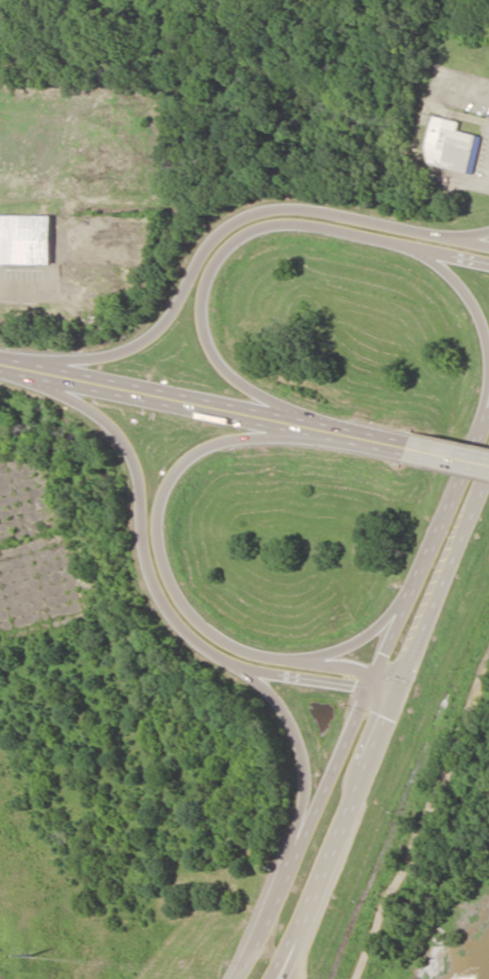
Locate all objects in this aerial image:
road: (83, 65)
road: (165, 96)
building: (453, 145)
road: (82, 192)
road: (220, 231)
road: (459, 234)
building: (25, 239)
road: (231, 240)
road: (479, 325)
road: (203, 404)
road: (448, 454)
road: (430, 543)
road: (445, 575)
road: (162, 577)
road: (148, 581)
road: (358, 638)
road: (300, 748)
road: (307, 826)
road: (338, 831)
power tower: (30, 956)
road: (285, 963)

